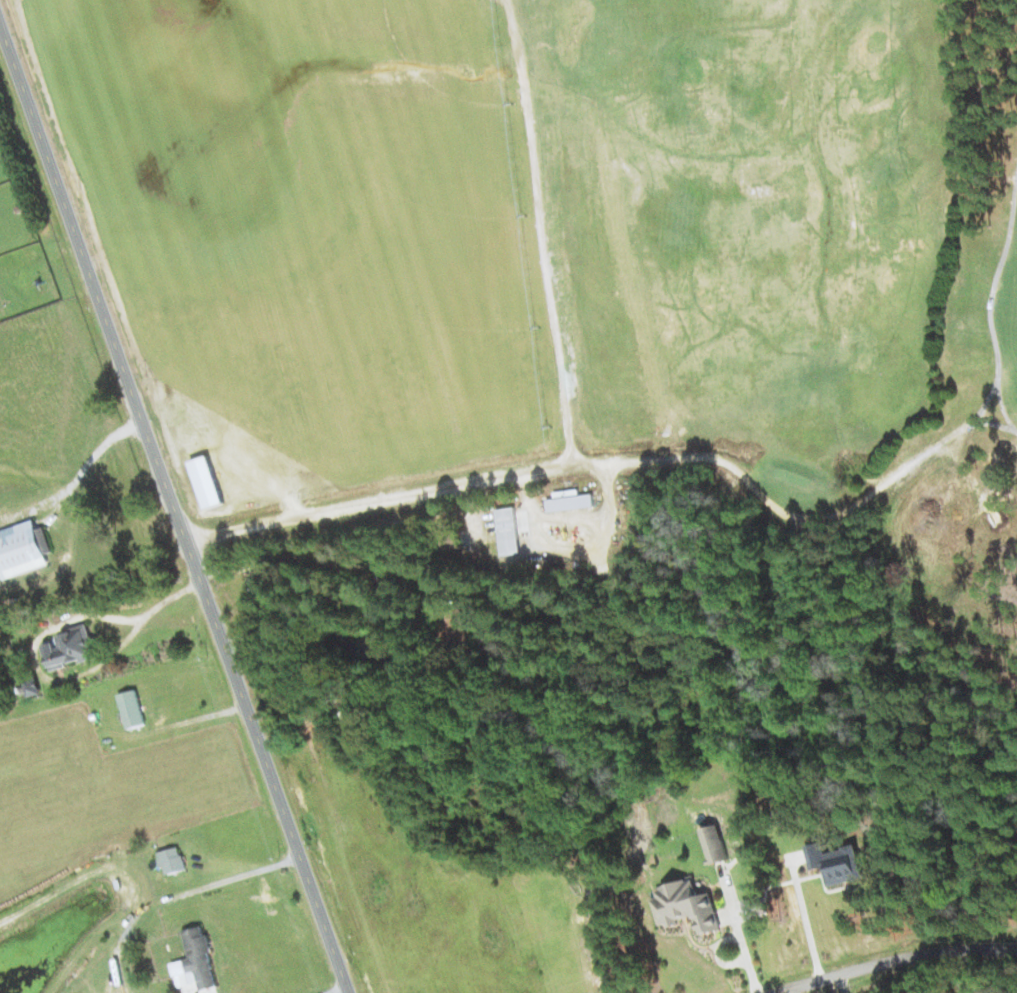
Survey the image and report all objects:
road: (543, 231)
park: (578, 282)
road: (607, 462)
building: (569, 502)
road: (176, 507)
building: (508, 531)
building: (452, 541)
building: (24, 549)
road: (430, 593)
building: (454, 632)
building: (70, 648)
building: (32, 688)
building: (132, 709)
building: (715, 844)
building: (172, 860)
building: (837, 863)
road: (232, 879)
building: (686, 906)
road: (893, 960)
building: (196, 961)

